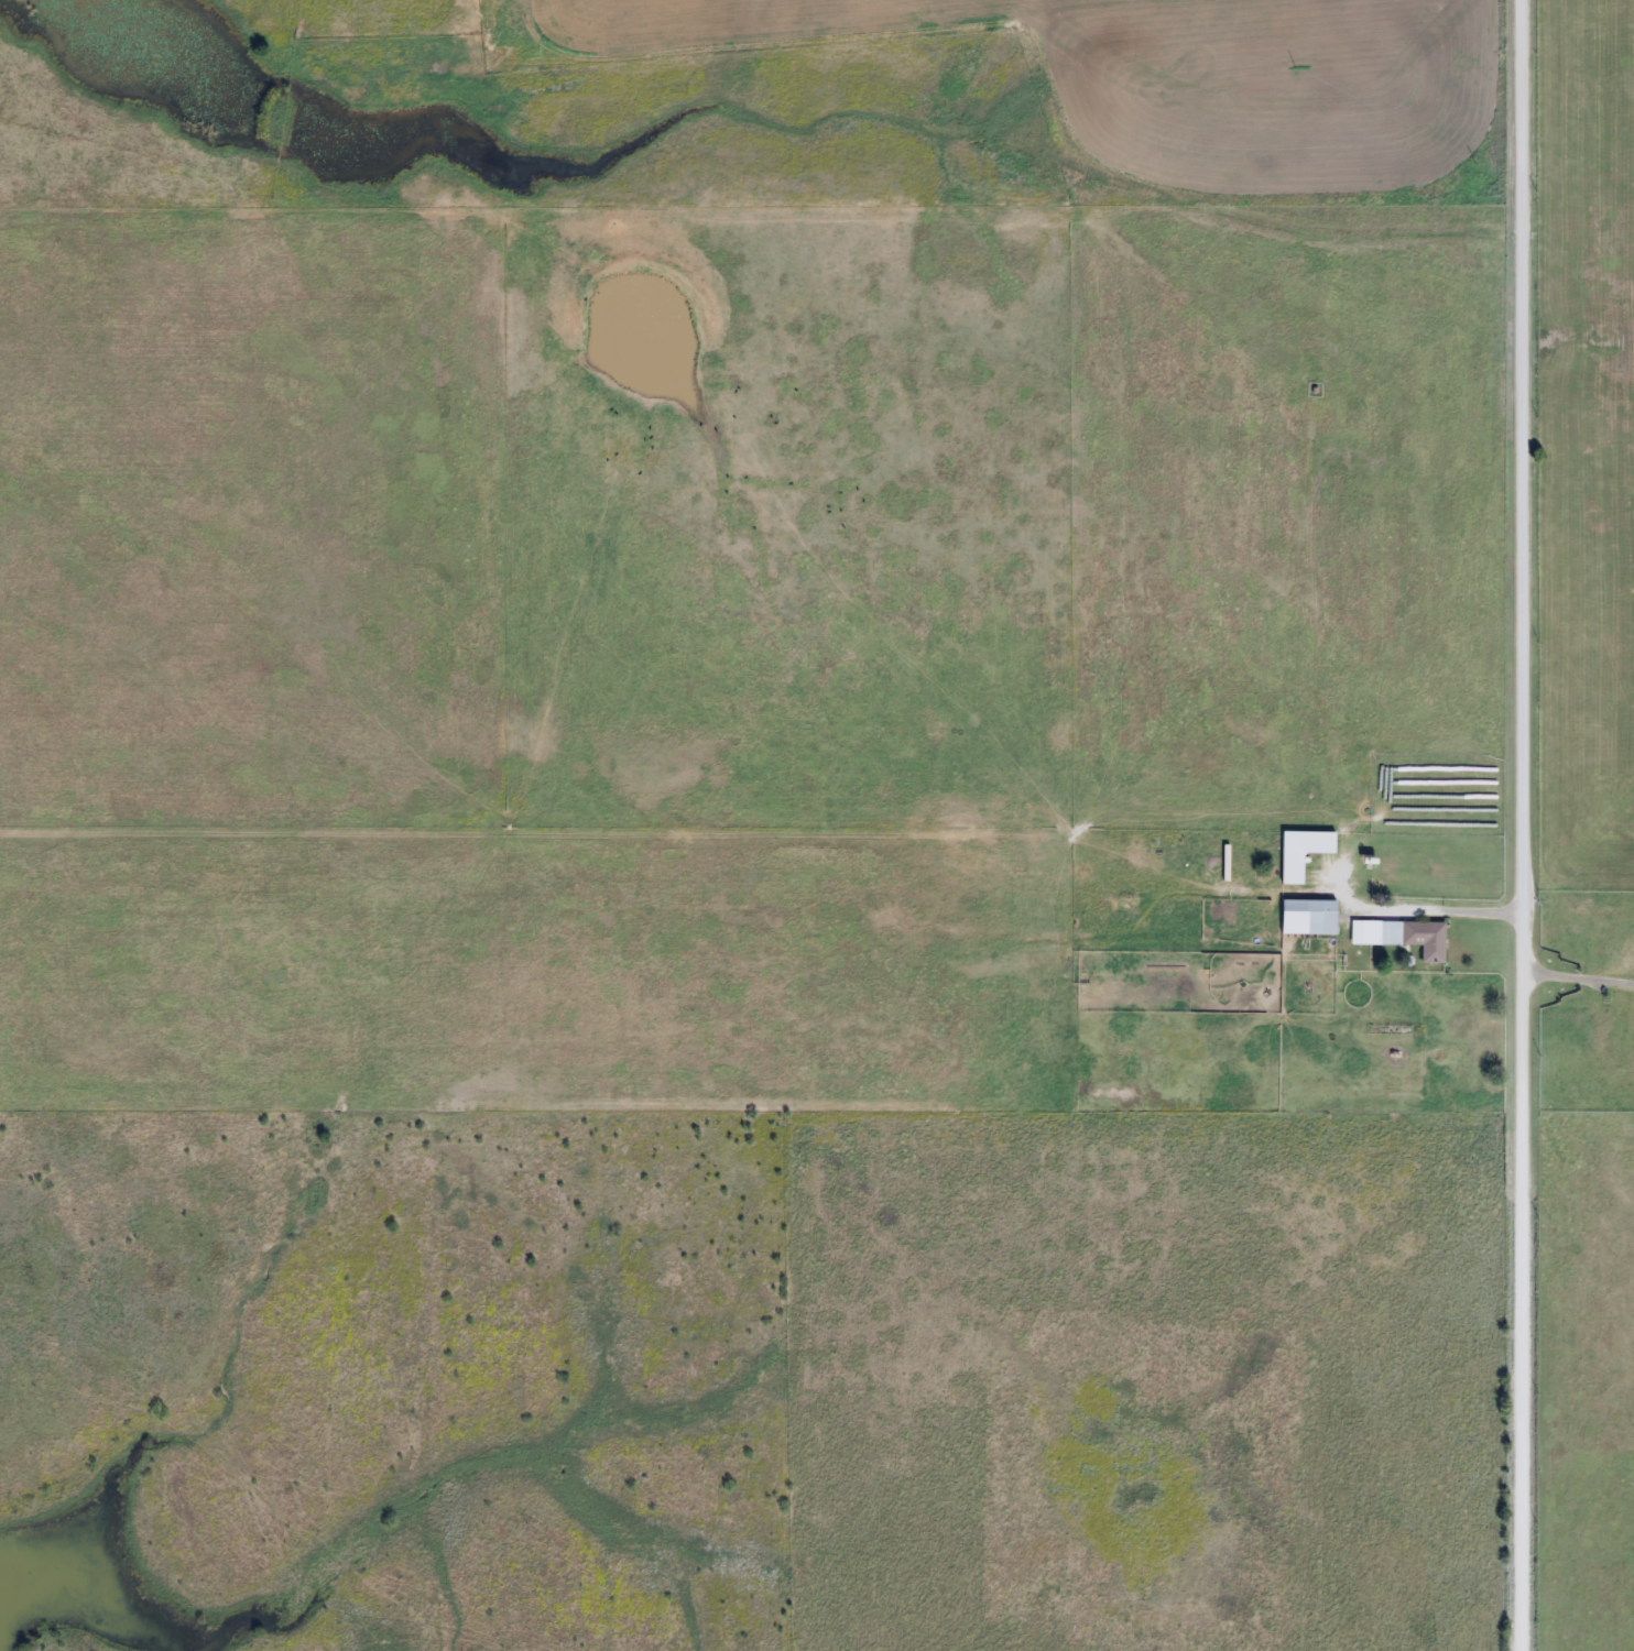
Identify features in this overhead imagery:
road: (1527, 824)
building: (1299, 852)
road: (1441, 912)
building: (1307, 918)
building: (1401, 937)

